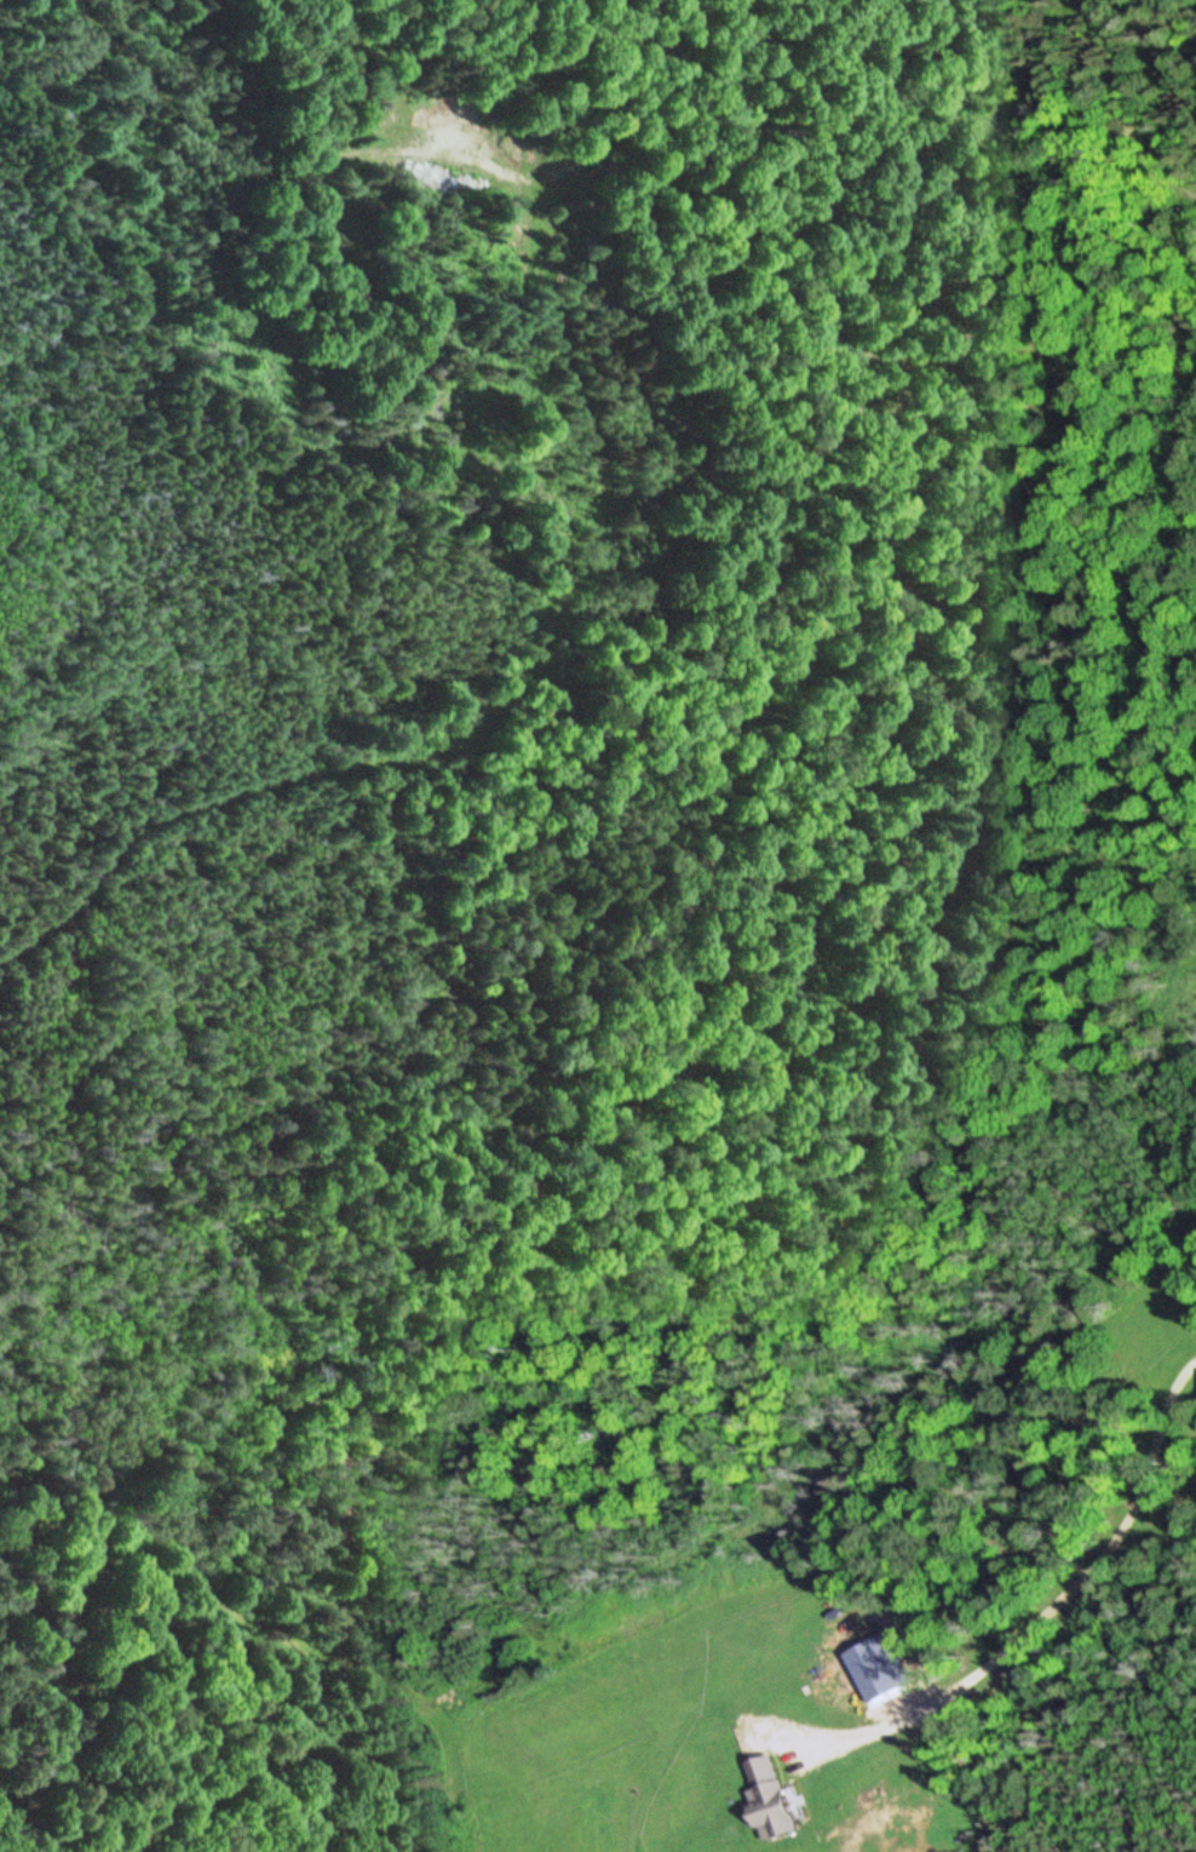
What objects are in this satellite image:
building: (767, 1796)

